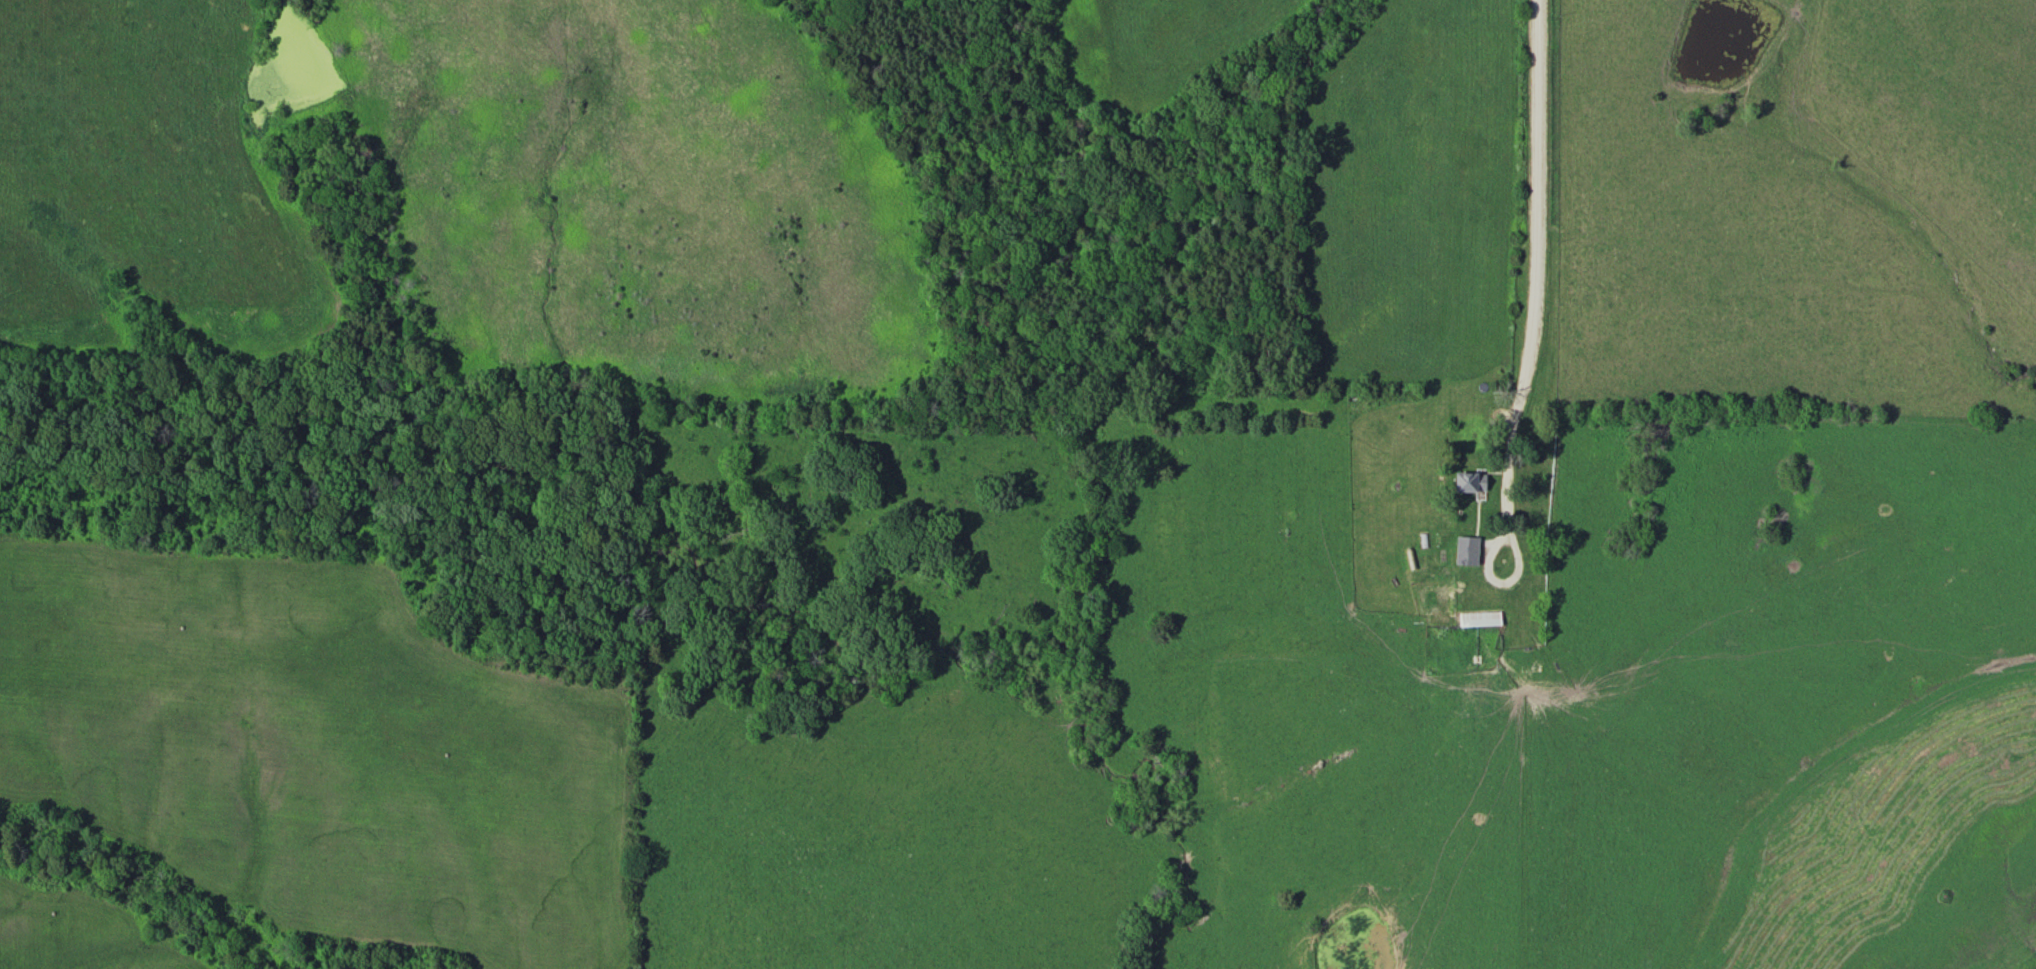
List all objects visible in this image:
road: (1541, 267)
building: (1466, 480)
building: (1464, 549)
road: (1504, 580)
building: (1478, 617)

